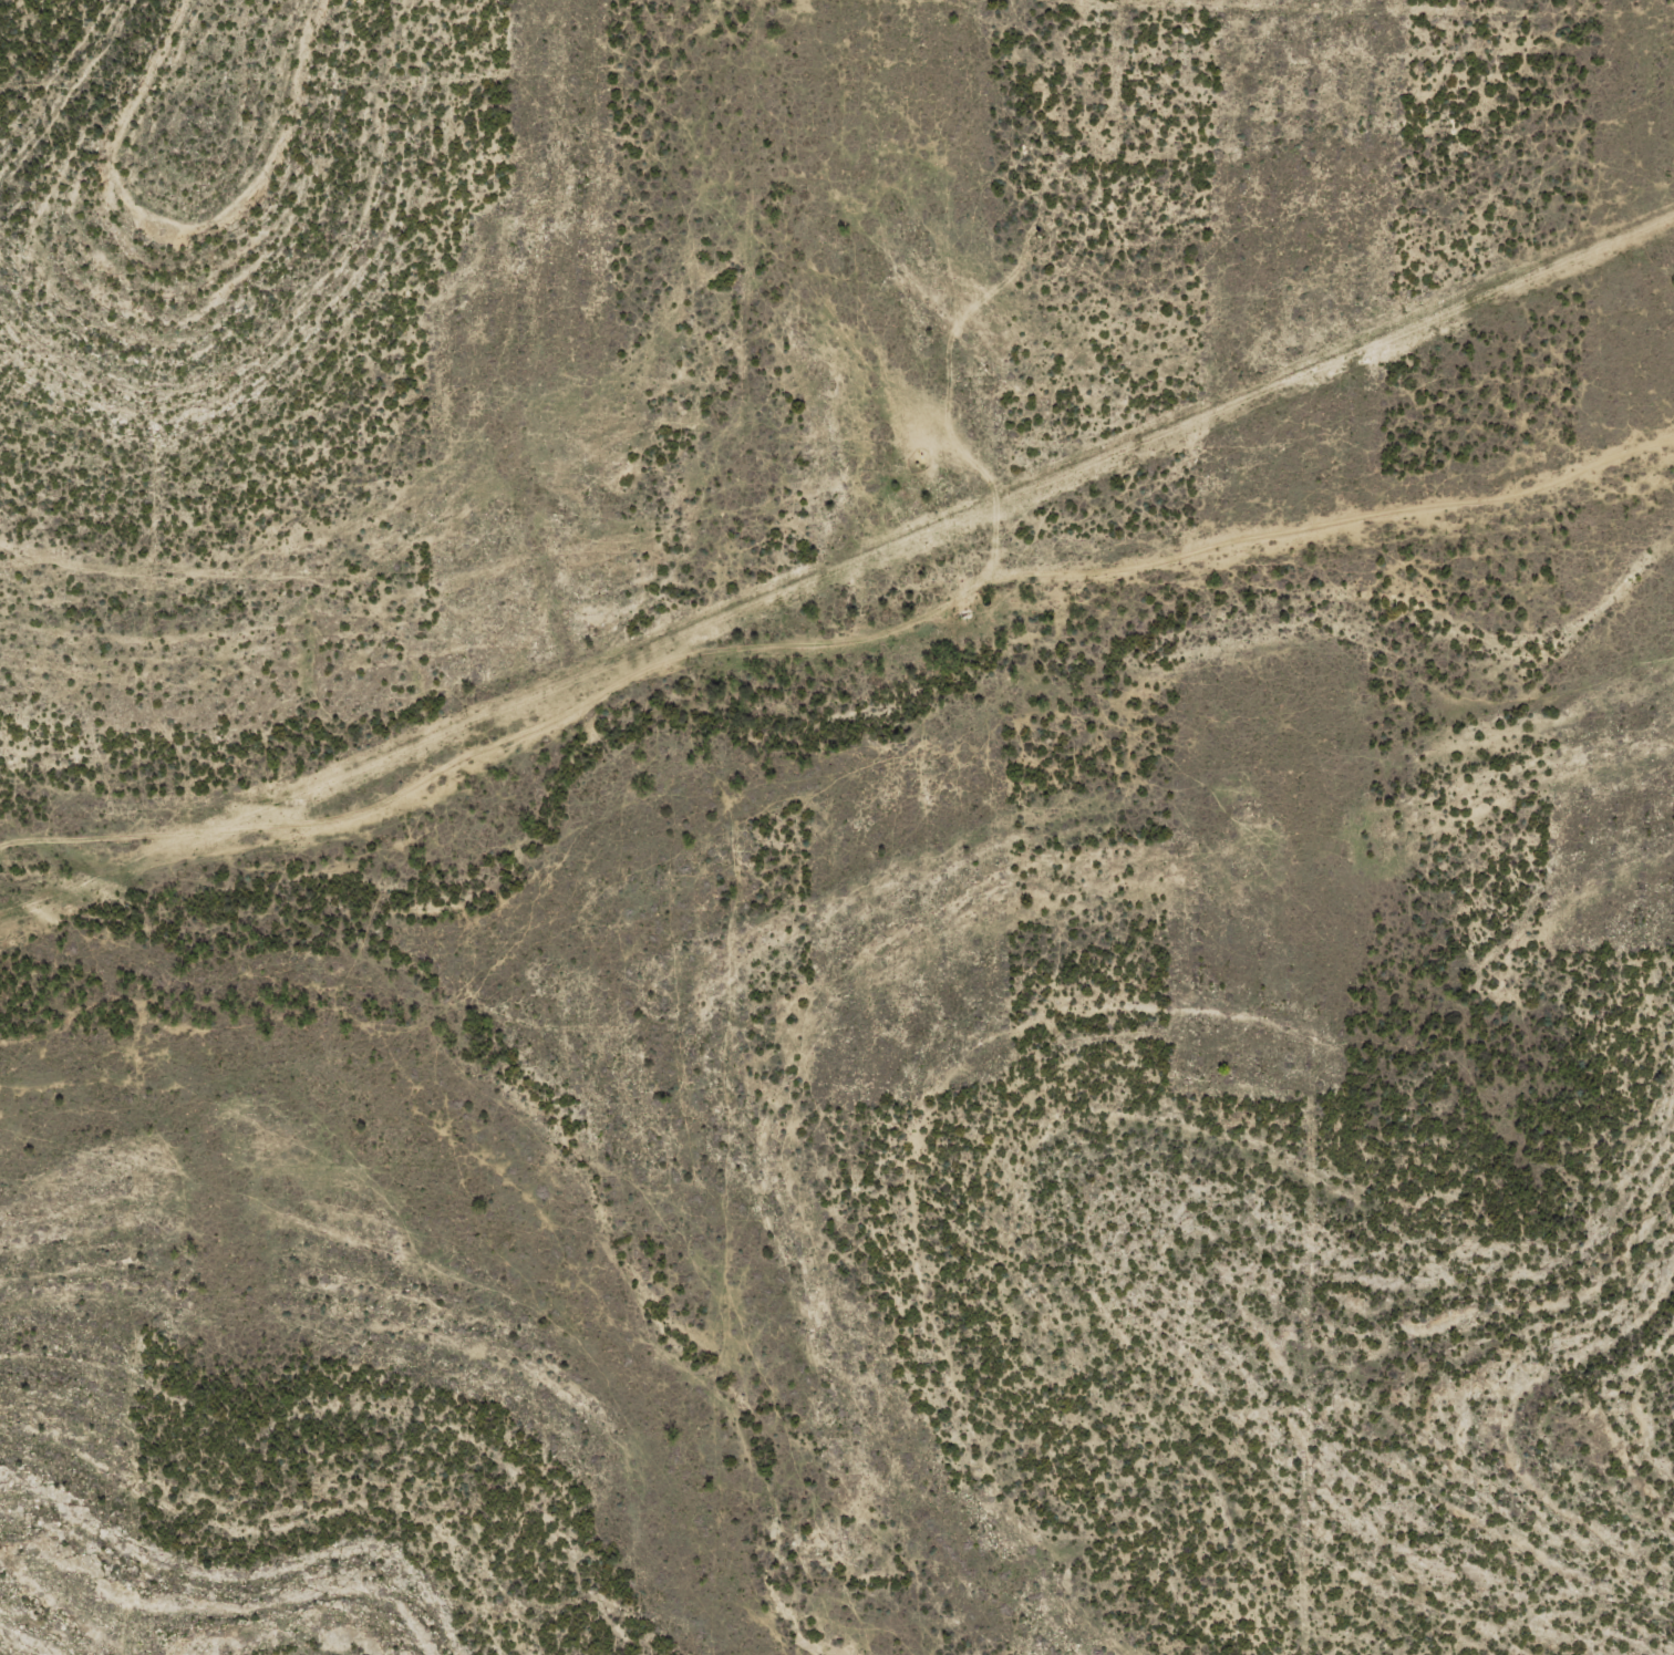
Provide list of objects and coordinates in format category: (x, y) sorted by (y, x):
road: (833, 674)

